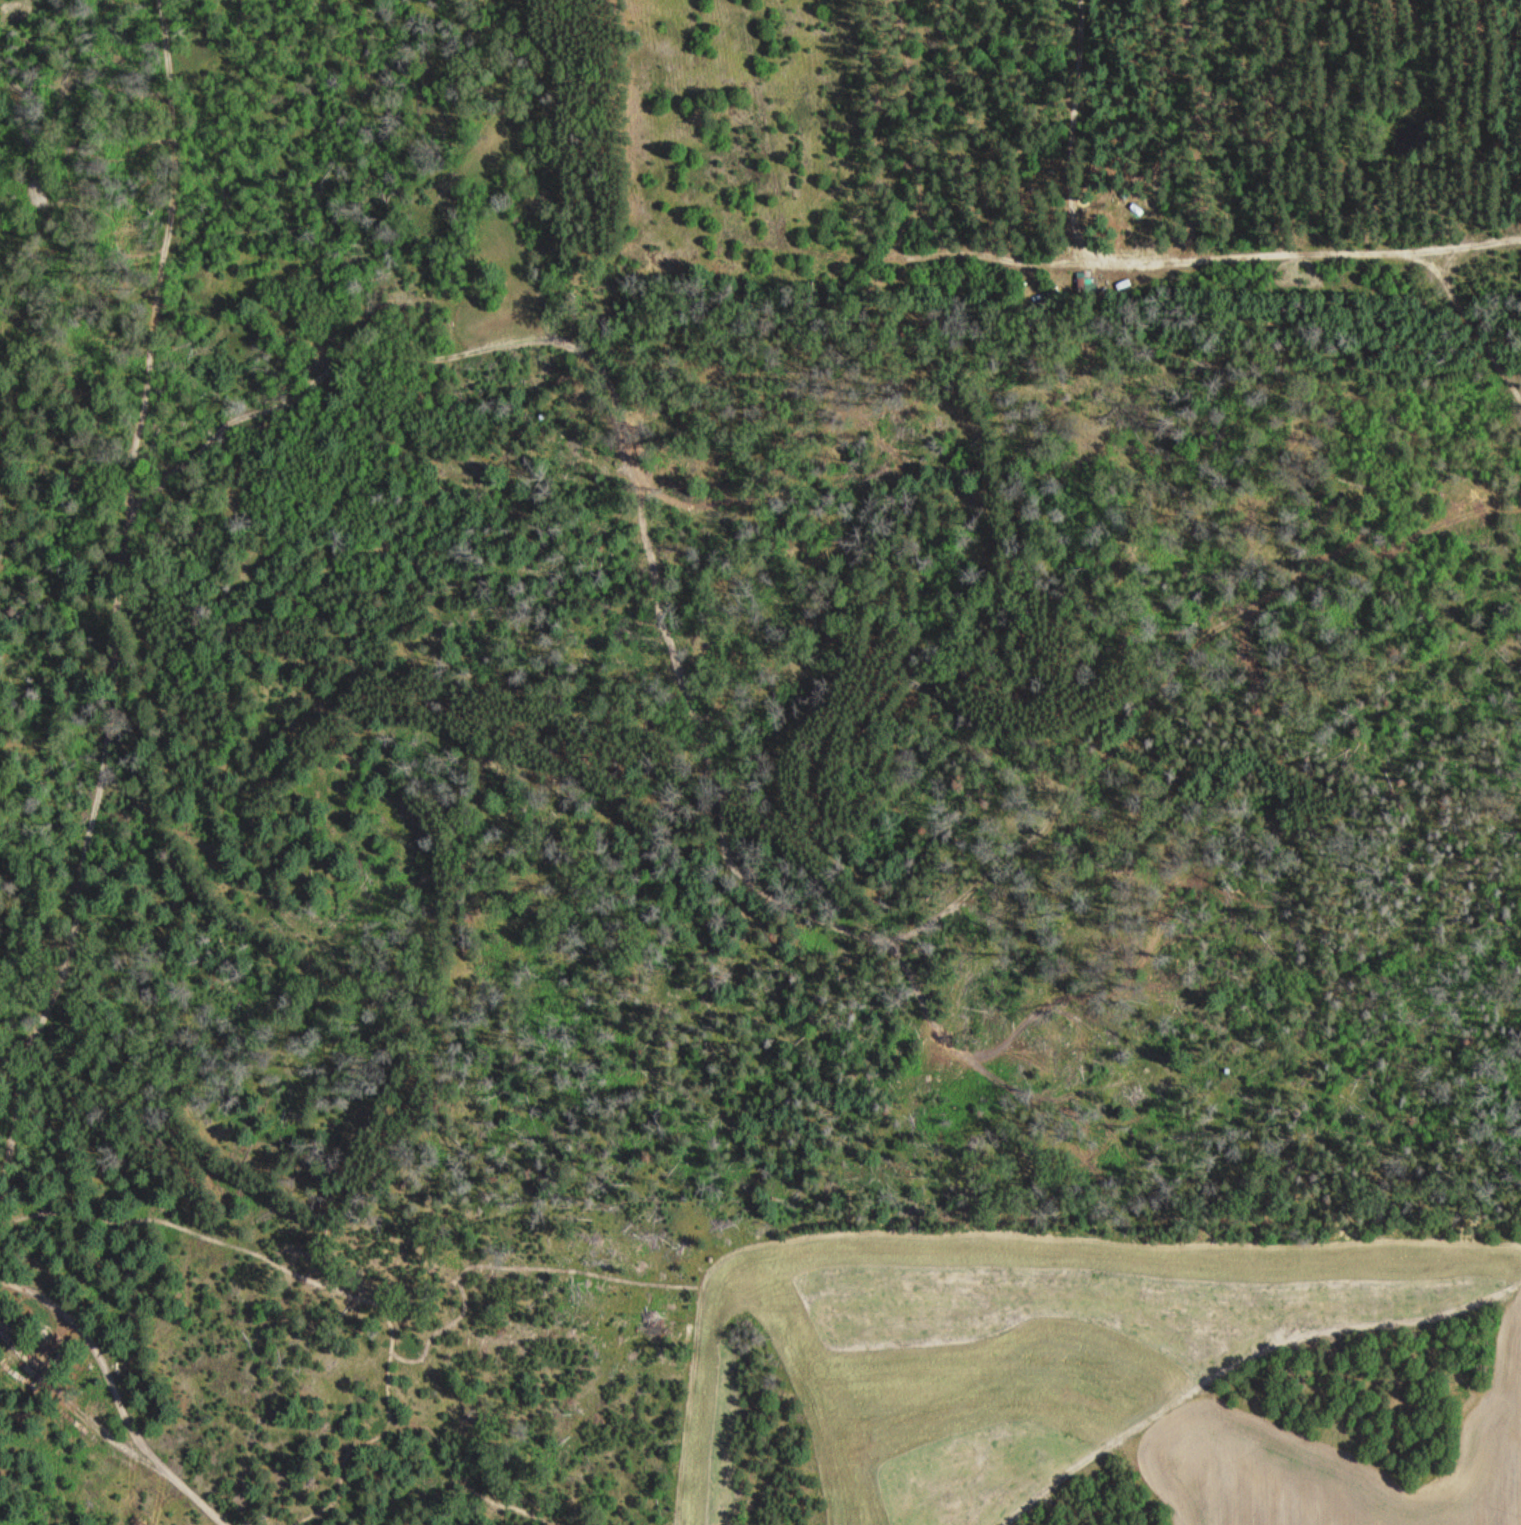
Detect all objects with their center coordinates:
building: (1079, 281)

